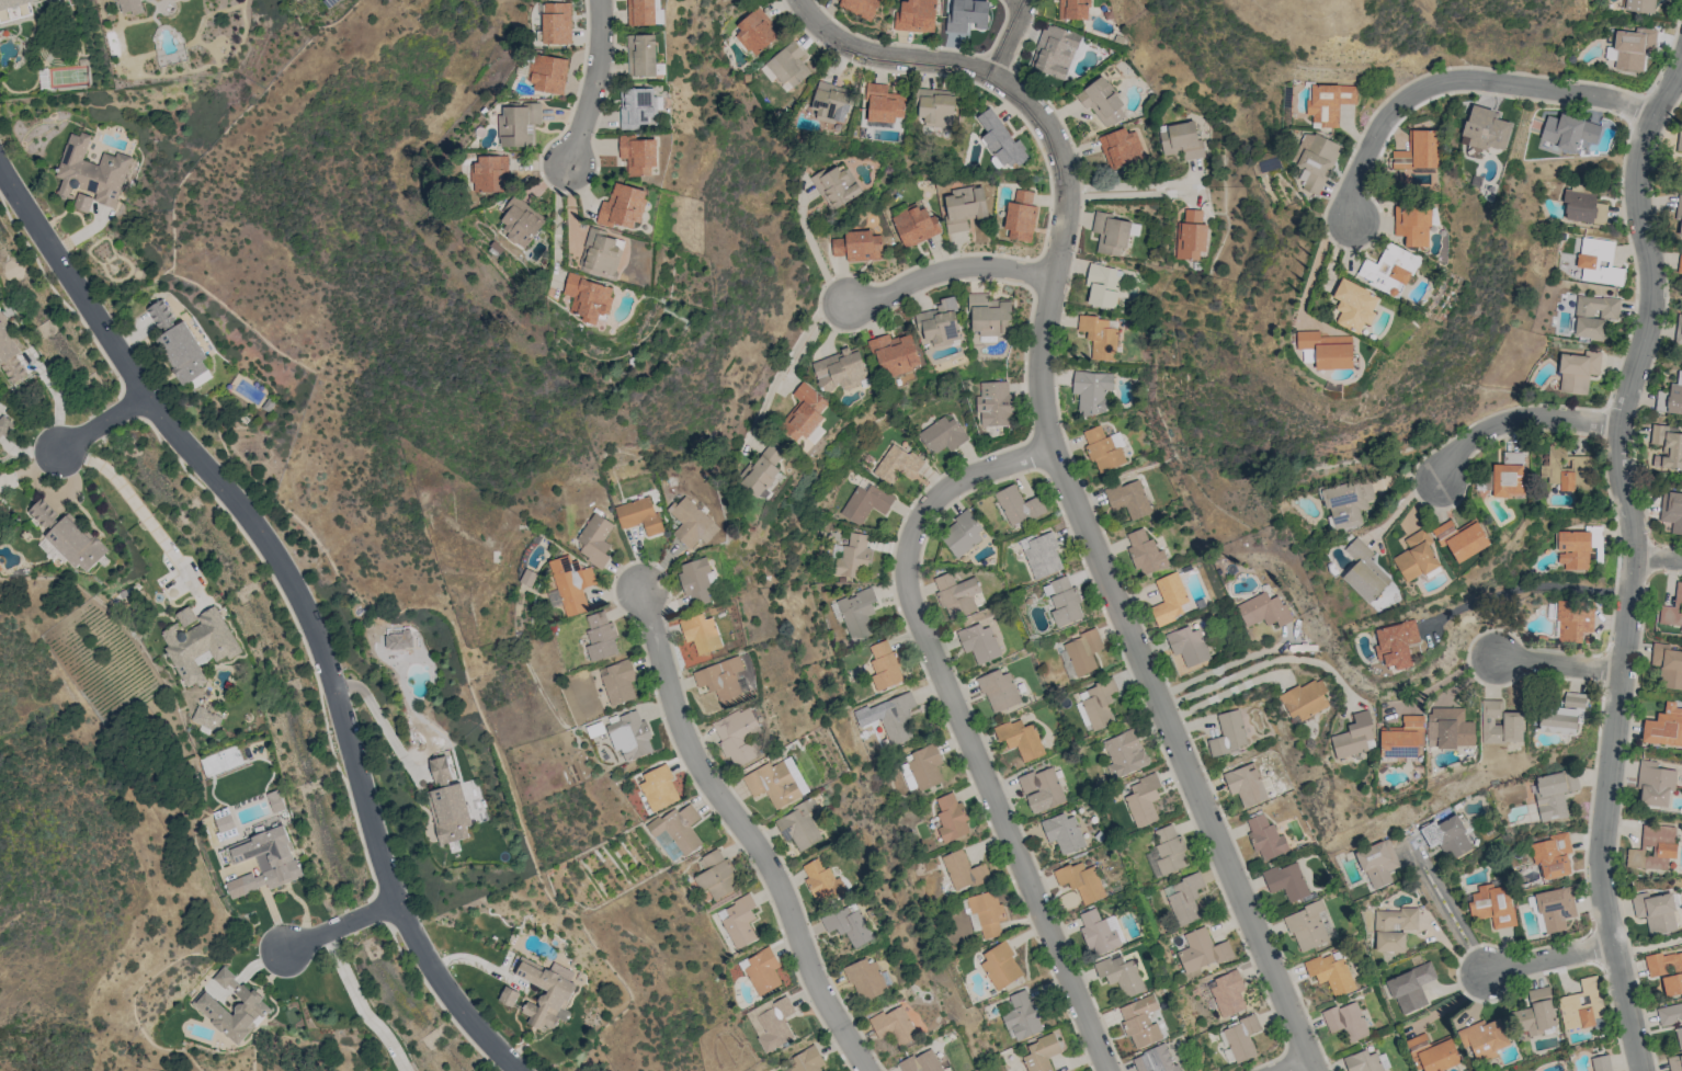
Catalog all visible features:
building: (726, 0)
building: (860, 5)
building: (1639, 5)
building: (132, 7)
building: (14, 9)
building: (1071, 9)
building: (641, 12)
building: (914, 15)
building: (967, 15)
building: (557, 23)
building: (754, 31)
road: (1008, 35)
building: (1633, 48)
building: (1054, 50)
building: (641, 55)
building: (787, 65)
building: (549, 73)
road: (1461, 77)
road: (598, 82)
building: (830, 101)
building: (1101, 101)
building: (1328, 102)
building: (883, 103)
building: (935, 105)
building: (636, 106)
building: (520, 124)
building: (1485, 129)
building: (1567, 130)
building: (1180, 139)
building: (1000, 140)
building: (1679, 141)
building: (1118, 148)
building: (638, 153)
building: (1416, 156)
building: (1316, 160)
building: (90, 171)
building: (491, 173)
building: (834, 186)
road: (1135, 187)
road: (22, 202)
building: (82, 202)
building: (623, 206)
building: (963, 207)
building: (1583, 207)
road: (559, 212)
building: (1020, 216)
building: (1678, 217)
building: (522, 223)
building: (1412, 224)
building: (914, 225)
building: (1110, 232)
building: (1190, 236)
building: (857, 246)
road: (815, 251)
building: (602, 254)
building: (1598, 261)
building: (1680, 263)
road: (1316, 264)
building: (1389, 267)
road: (952, 269)
building: (1102, 285)
building: (589, 297)
road: (1651, 300)
building: (1353, 305)
building: (1593, 315)
building: (989, 316)
building: (940, 323)
building: (1679, 329)
building: (1099, 337)
building: (178, 344)
building: (1327, 349)
building: (10, 354)
building: (895, 354)
building: (1308, 355)
road: (787, 361)
building: (840, 369)
building: (1577, 371)
building: (1091, 391)
building: (1671, 396)
building: (993, 403)
building: (803, 413)
road: (1516, 418)
road: (98, 422)
building: (5, 428)
building: (941, 435)
building: (1668, 445)
building: (1103, 448)
building: (896, 464)
building: (763, 468)
building: (1566, 469)
road: (1067, 471)
building: (1508, 476)
building: (1128, 499)
building: (866, 502)
building: (1346, 503)
building: (1018, 505)
building: (1671, 510)
road: (140, 511)
building: (638, 514)
building: (691, 523)
building: (962, 534)
building: (69, 537)
building: (1461, 538)
building: (595, 539)
building: (47, 547)
building: (1572, 549)
building: (1145, 552)
building: (1042, 555)
building: (1416, 556)
building: (852, 557)
road: (1658, 558)
building: (1364, 571)
building: (696, 579)
building: (571, 583)
road: (1525, 588)
building: (956, 594)
building: (1169, 599)
building: (1062, 601)
building: (1263, 609)
building: (1672, 609)
building: (856, 613)
building: (185, 616)
building: (1573, 620)
building: (701, 634)
building: (601, 637)
road: (315, 639)
building: (398, 640)
building: (979, 642)
building: (1395, 643)
building: (200, 645)
building: (1189, 646)
building: (1082, 651)
road: (1262, 663)
road: (1560, 664)
building: (884, 665)
building: (1668, 665)
road: (1225, 666)
building: (721, 680)
building: (618, 681)
building: (998, 690)
road: (1220, 693)
building: (1305, 698)
building: (1095, 704)
building: (1562, 714)
building: (206, 718)
building: (897, 719)
road: (380, 720)
building: (1499, 722)
road: (965, 724)
building: (1664, 727)
building: (1448, 728)
building: (1228, 733)
building: (629, 736)
building: (738, 736)
building: (1353, 736)
building: (1020, 738)
building: (1402, 738)
building: (1124, 753)
building: (924, 766)
building: (776, 782)
building: (1653, 783)
building: (1246, 785)
building: (659, 788)
building: (1041, 789)
building: (1554, 793)
building: (1143, 800)
building: (275, 801)
building: (447, 804)
road: (1603, 814)
building: (951, 818)
building: (224, 822)
building: (799, 825)
building: (678, 828)
road: (752, 832)
building: (1062, 832)
building: (1446, 836)
building: (1265, 838)
building: (1652, 847)
building: (1169, 850)
road: (1417, 853)
building: (1552, 855)
building: (263, 861)
road: (1420, 861)
building: (1377, 863)
building: (963, 870)
building: (716, 875)
building: (821, 880)
building: (1081, 880)
building: (1286, 880)
building: (1183, 898)
building: (1491, 904)
building: (1555, 908)
building: (1655, 911)
building: (987, 912)
building: (738, 921)
building: (849, 924)
road: (340, 926)
building: (1308, 926)
building: (1393, 928)
building: (1099, 933)
road: (1648, 946)
building: (1202, 950)
road: (1549, 958)
road: (1479, 962)
building: (1000, 966)
building: (761, 970)
building: (1666, 970)
building: (1121, 973)
building: (1330, 973)
building: (866, 979)
building: (1410, 988)
building: (545, 993)
building: (1227, 993)
building: (508, 995)
building: (253, 1005)
road: (361, 1005)
building: (1581, 1005)
building: (1536, 1013)
building: (1669, 1014)
building: (1022, 1016)
building: (1140, 1021)
building: (1345, 1021)
building: (771, 1022)
building: (894, 1025)
building: (1679, 1036)
building: (1241, 1038)
building: (1484, 1038)
building: (1433, 1052)
building: (1041, 1053)
building: (1155, 1059)
building: (805, 1060)
building: (1362, 1061)
building: (921, 1062)
building: (1601, 1062)
building: (1674, 1062)
road: (1298, 1066)

